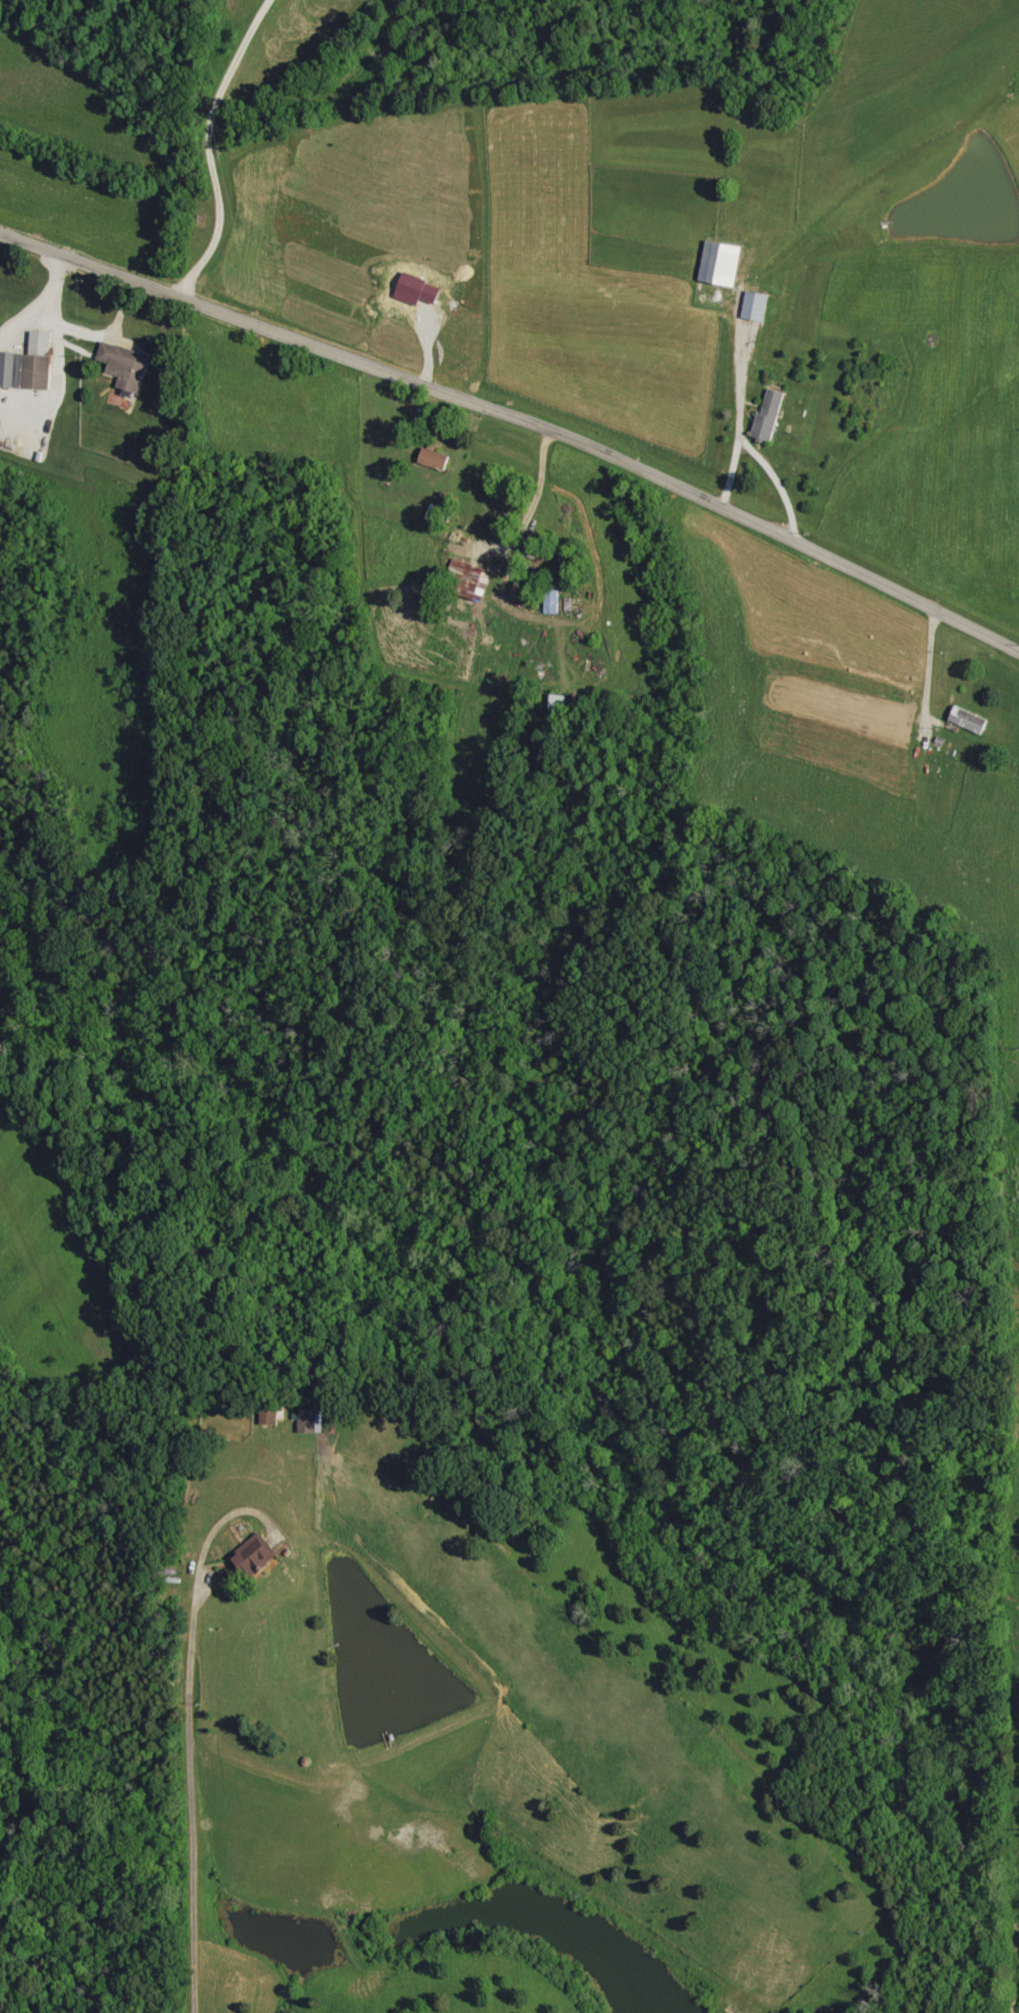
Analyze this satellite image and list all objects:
road: (210, 145)
building: (721, 263)
building: (755, 305)
building: (124, 364)
building: (29, 365)
building: (769, 416)
road: (517, 419)
building: (434, 459)
building: (534, 547)
building: (472, 579)
building: (552, 601)
building: (968, 719)
building: (311, 1420)
building: (253, 1556)
road: (188, 1724)

